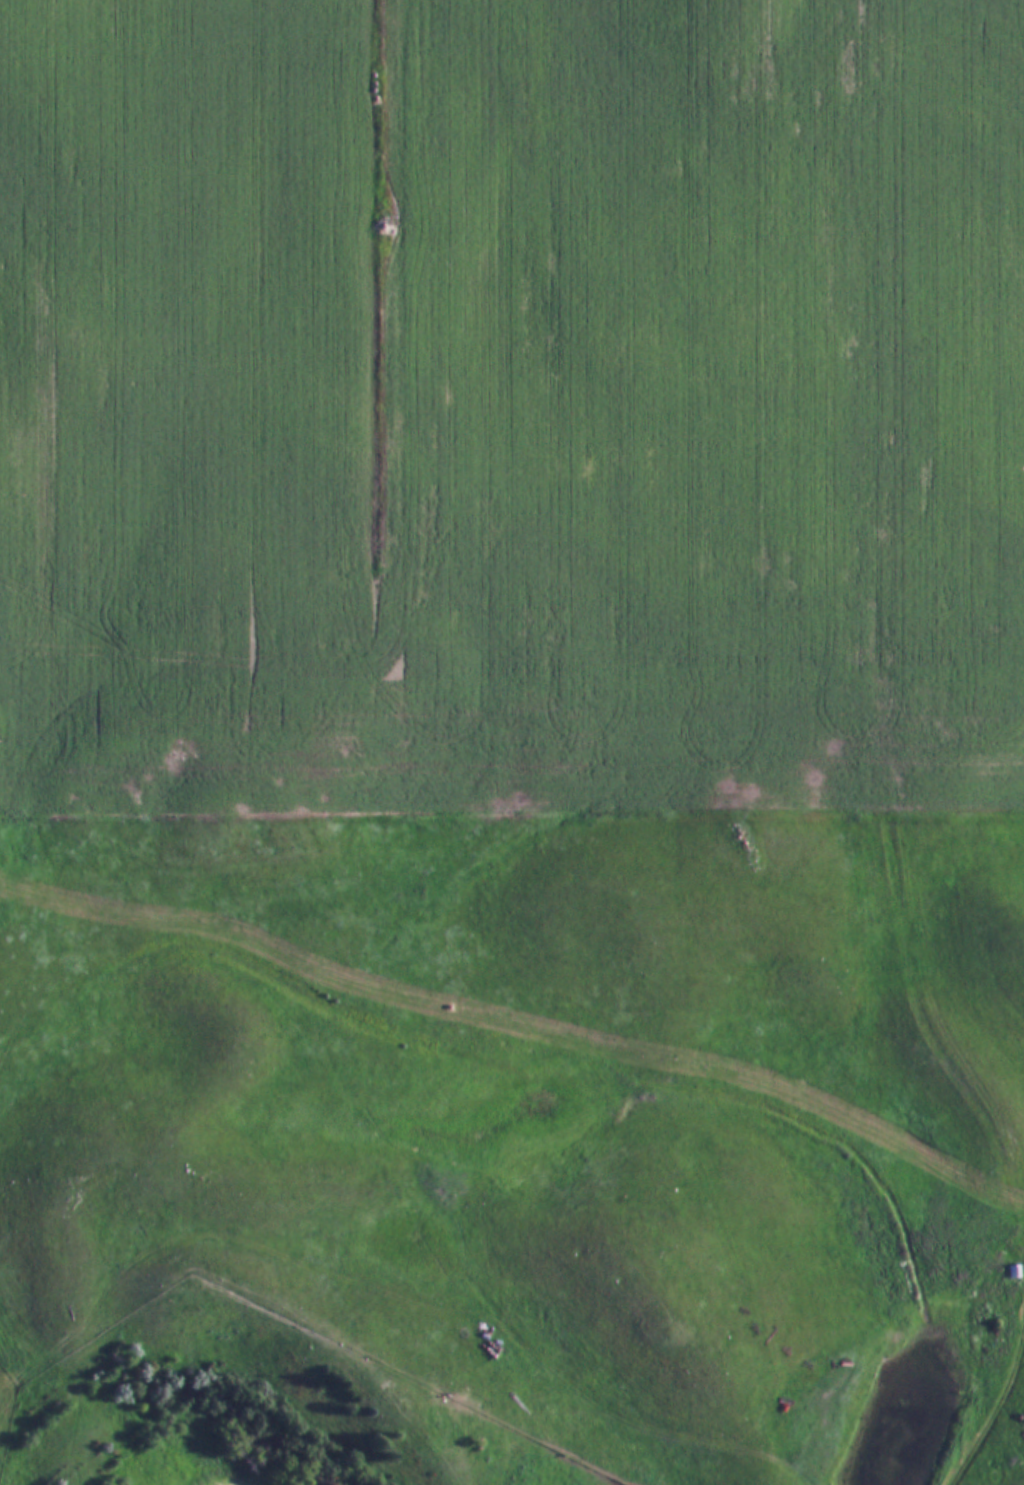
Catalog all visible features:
road: (1010, 1140)
building: (1012, 1270)
road: (995, 1418)

